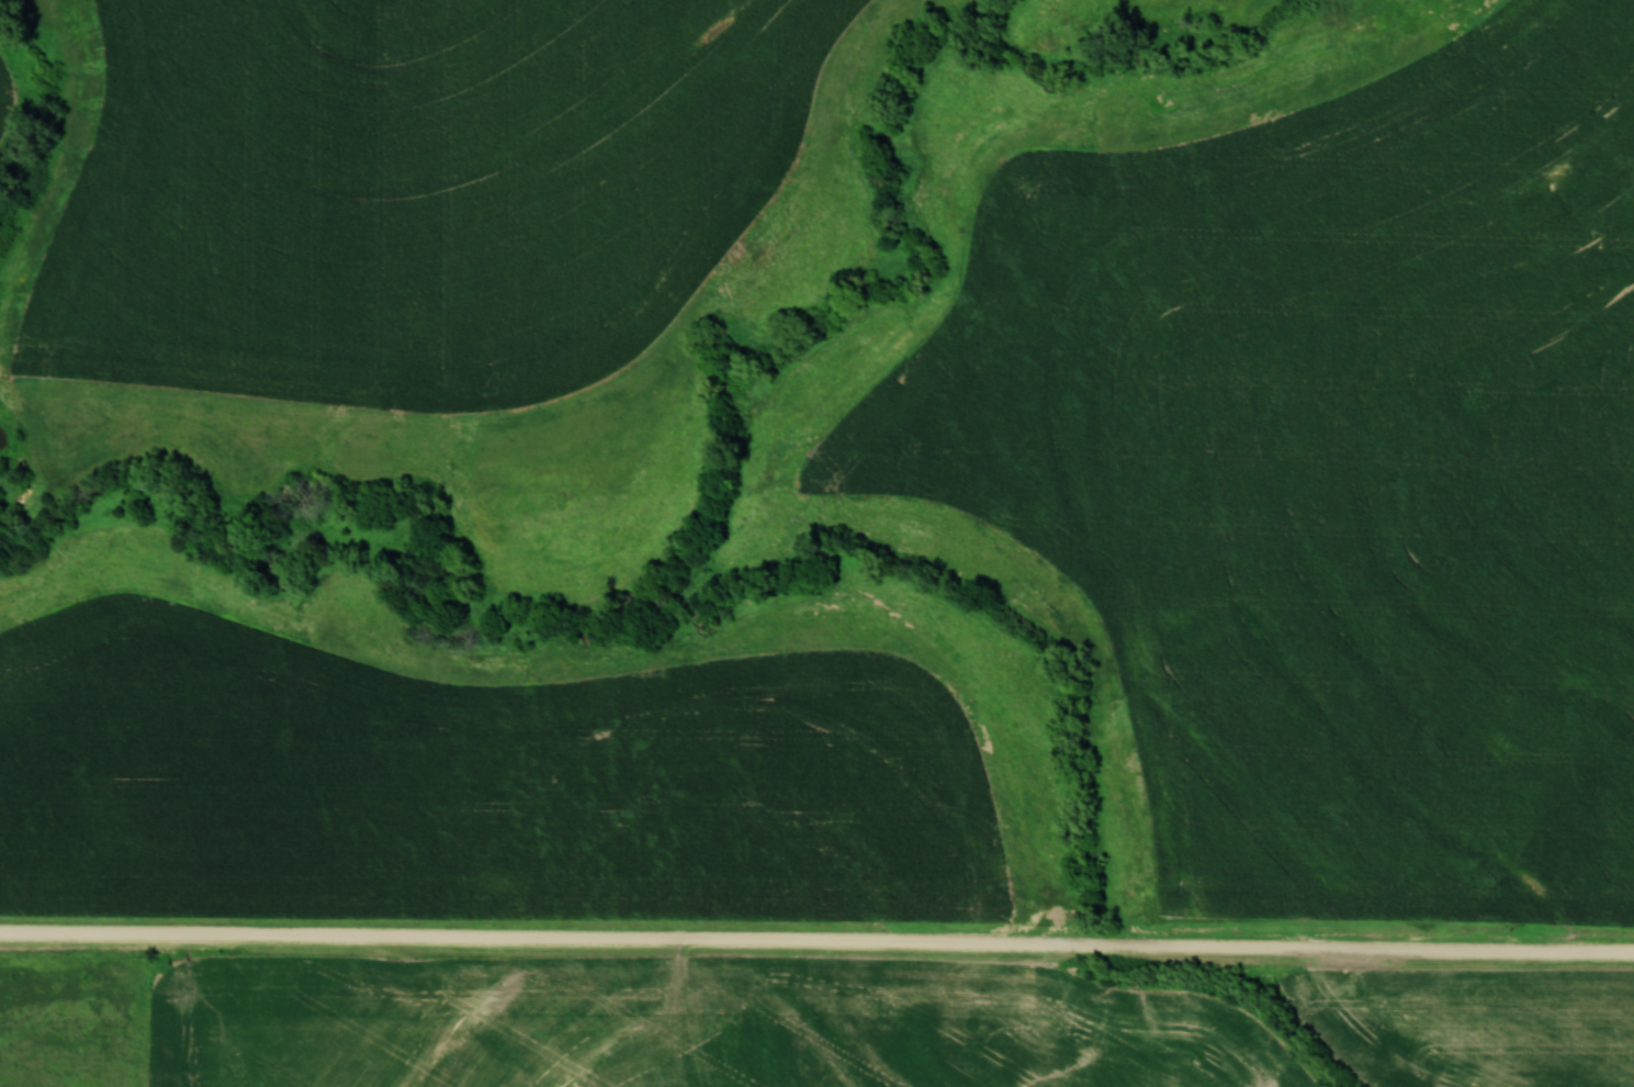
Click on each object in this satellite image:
road: (816, 941)

